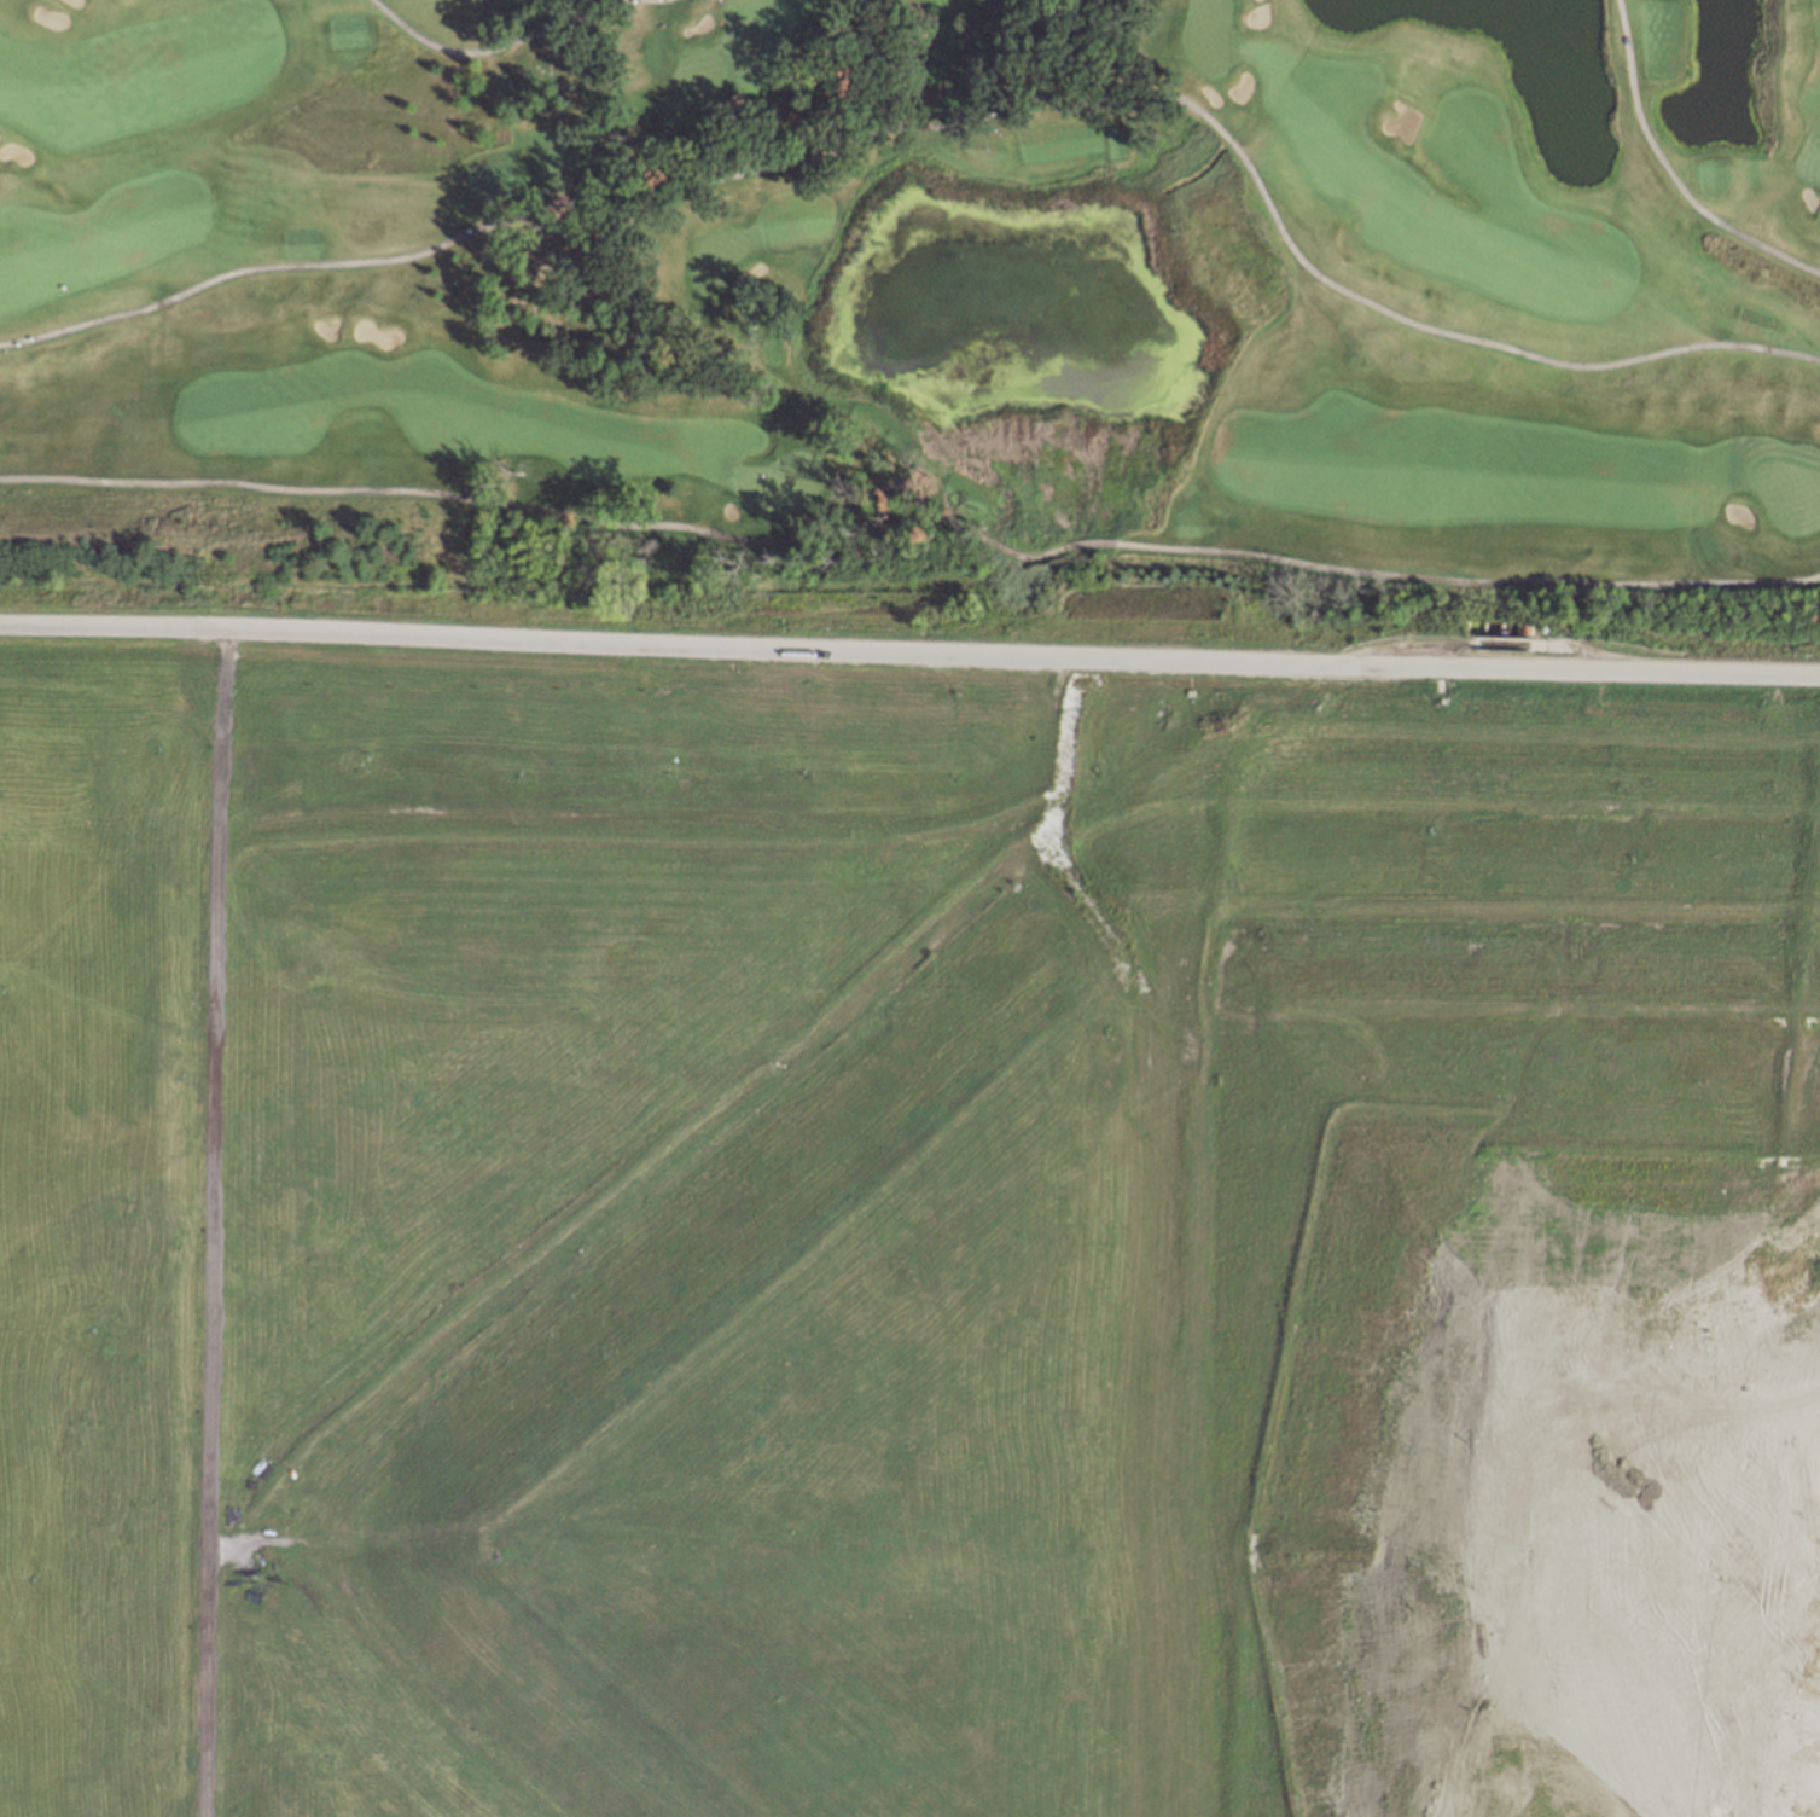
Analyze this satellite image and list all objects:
road: (487, 50)
road: (949, 122)
road: (1671, 170)
park: (920, 295)
road: (556, 513)
road: (1466, 579)
road: (909, 643)
road: (222, 1219)
landfill: (902, 1241)

